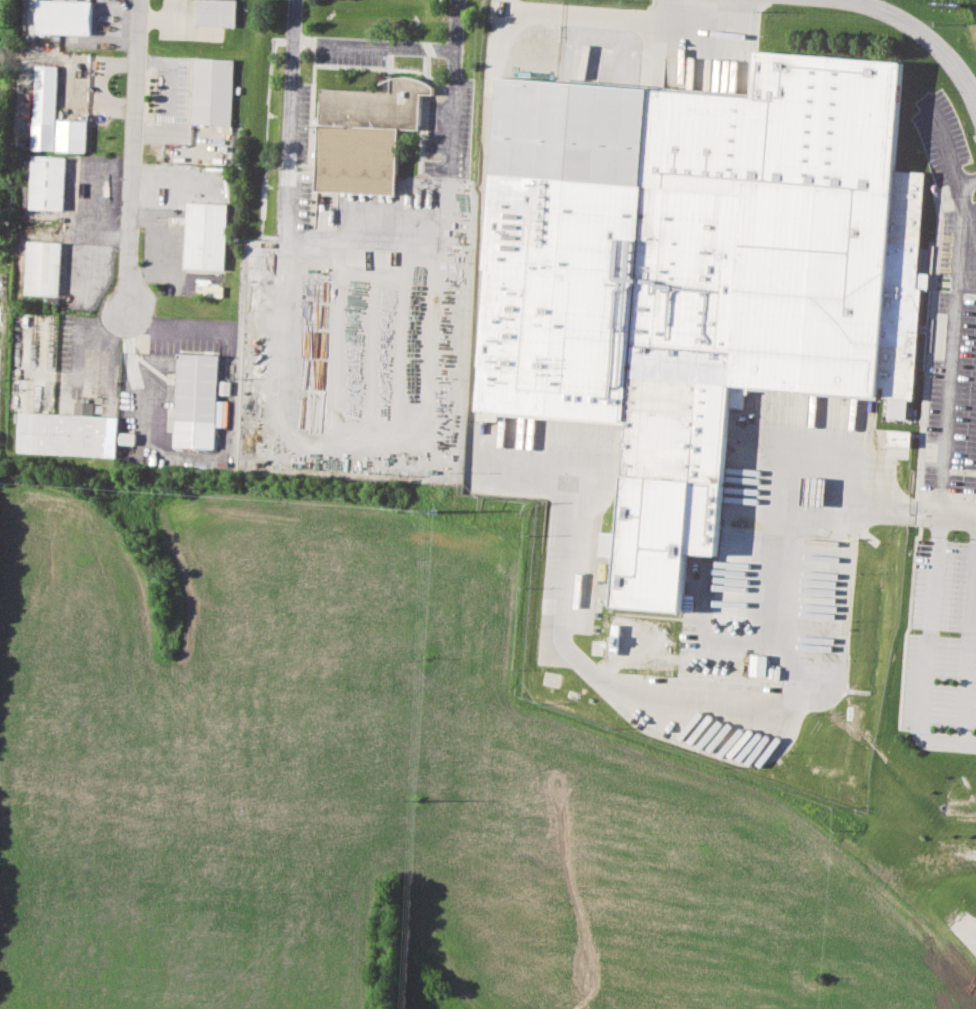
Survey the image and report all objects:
road: (884, 9)
road: (529, 10)
building: (214, 12)
road: (637, 16)
road: (290, 19)
road: (391, 45)
road: (947, 54)
building: (210, 91)
road: (165, 98)
building: (44, 107)
road: (449, 107)
building: (70, 135)
building: (363, 135)
road: (131, 163)
road: (966, 182)
building: (45, 184)
road: (968, 228)
building: (202, 236)
building: (41, 268)
building: (693, 273)
road: (954, 323)
road: (175, 331)
road: (424, 342)
road: (132, 379)
building: (193, 401)
building: (64, 434)
building: (898, 437)
building: (126, 438)
road: (798, 444)
road: (562, 556)
building: (579, 616)
road: (968, 645)
road: (926, 647)
building: (759, 664)
road: (970, 932)

